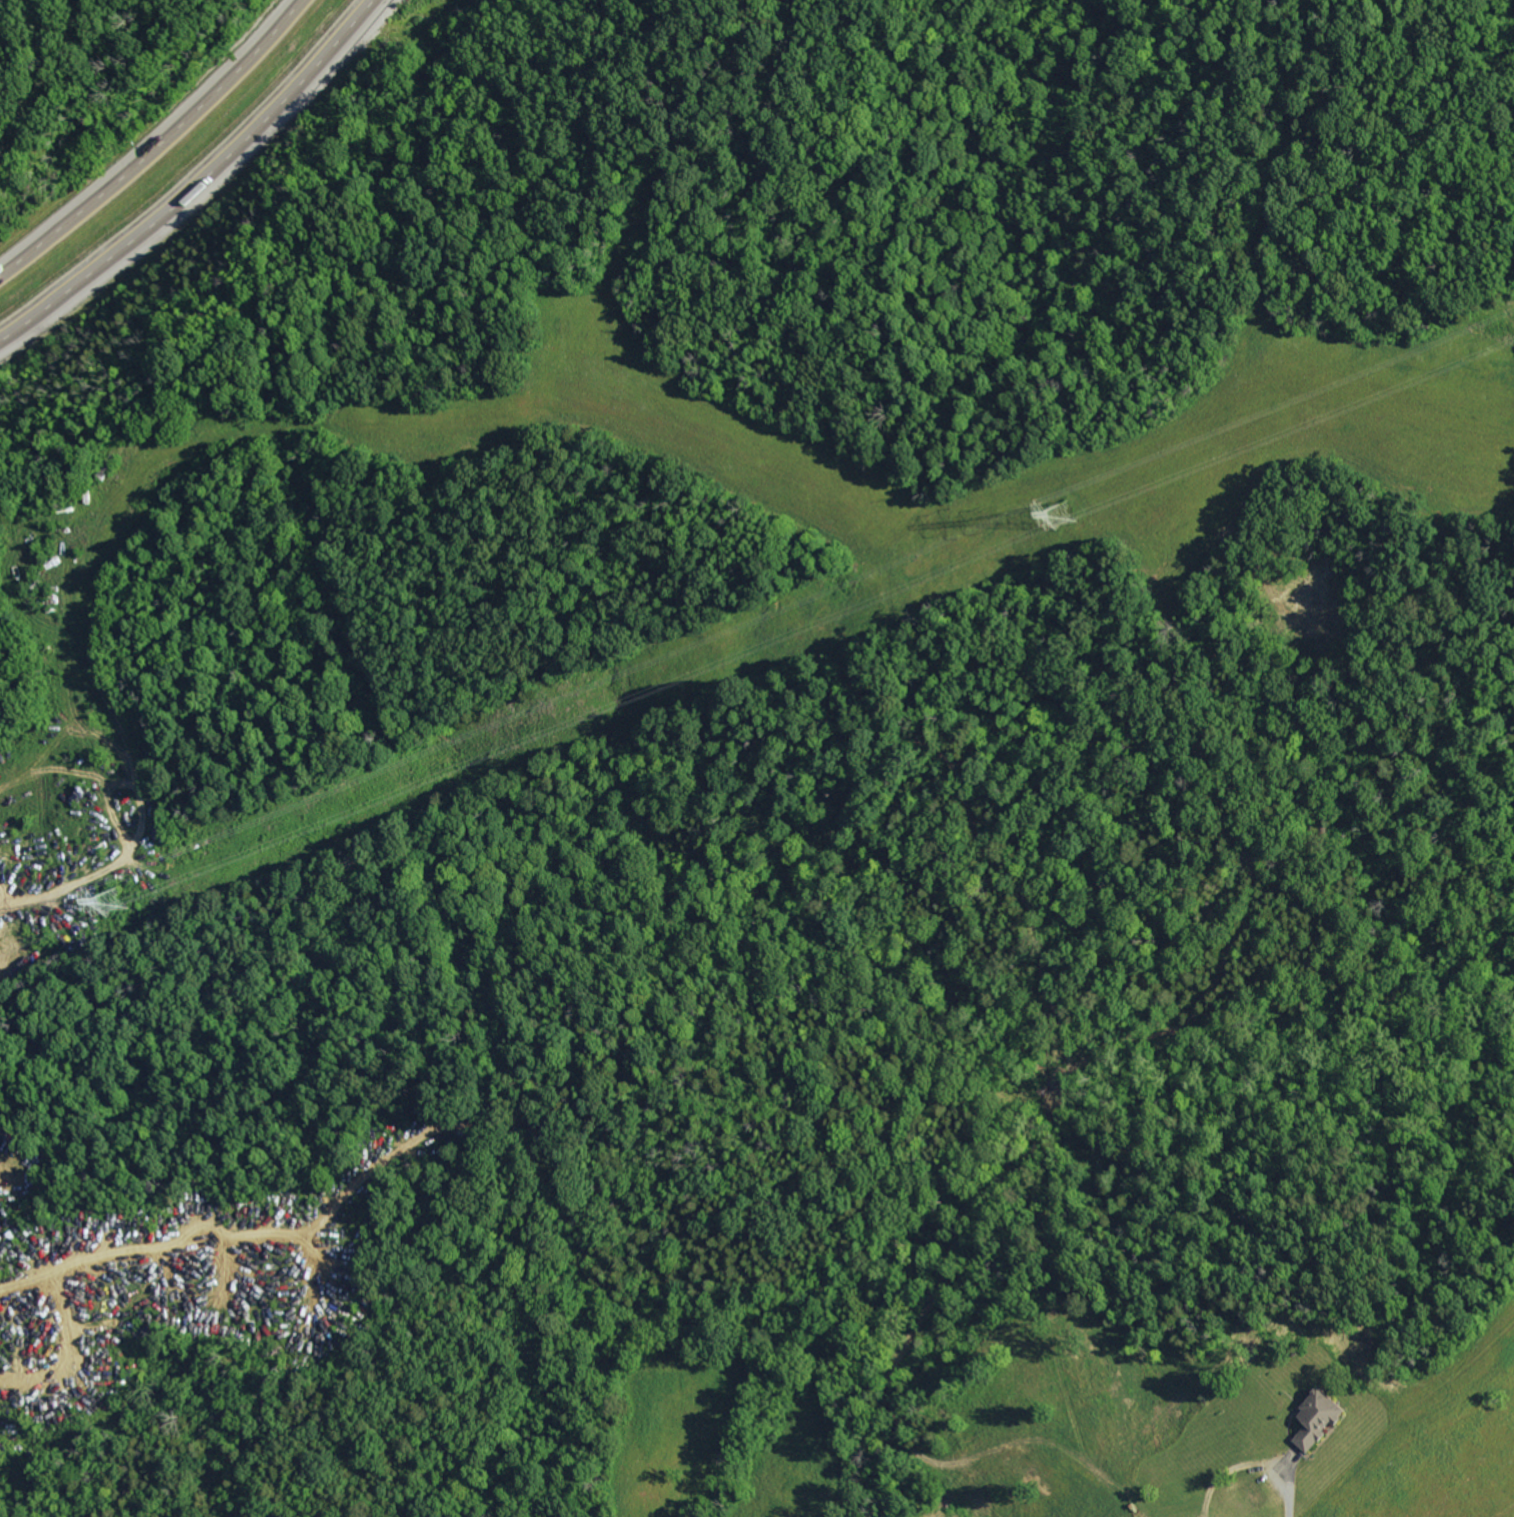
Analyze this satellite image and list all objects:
road: (152, 138)
road: (199, 185)
power tower: (1068, 514)
power tower: (121, 901)
building: (1323, 1419)
road: (1289, 1493)

